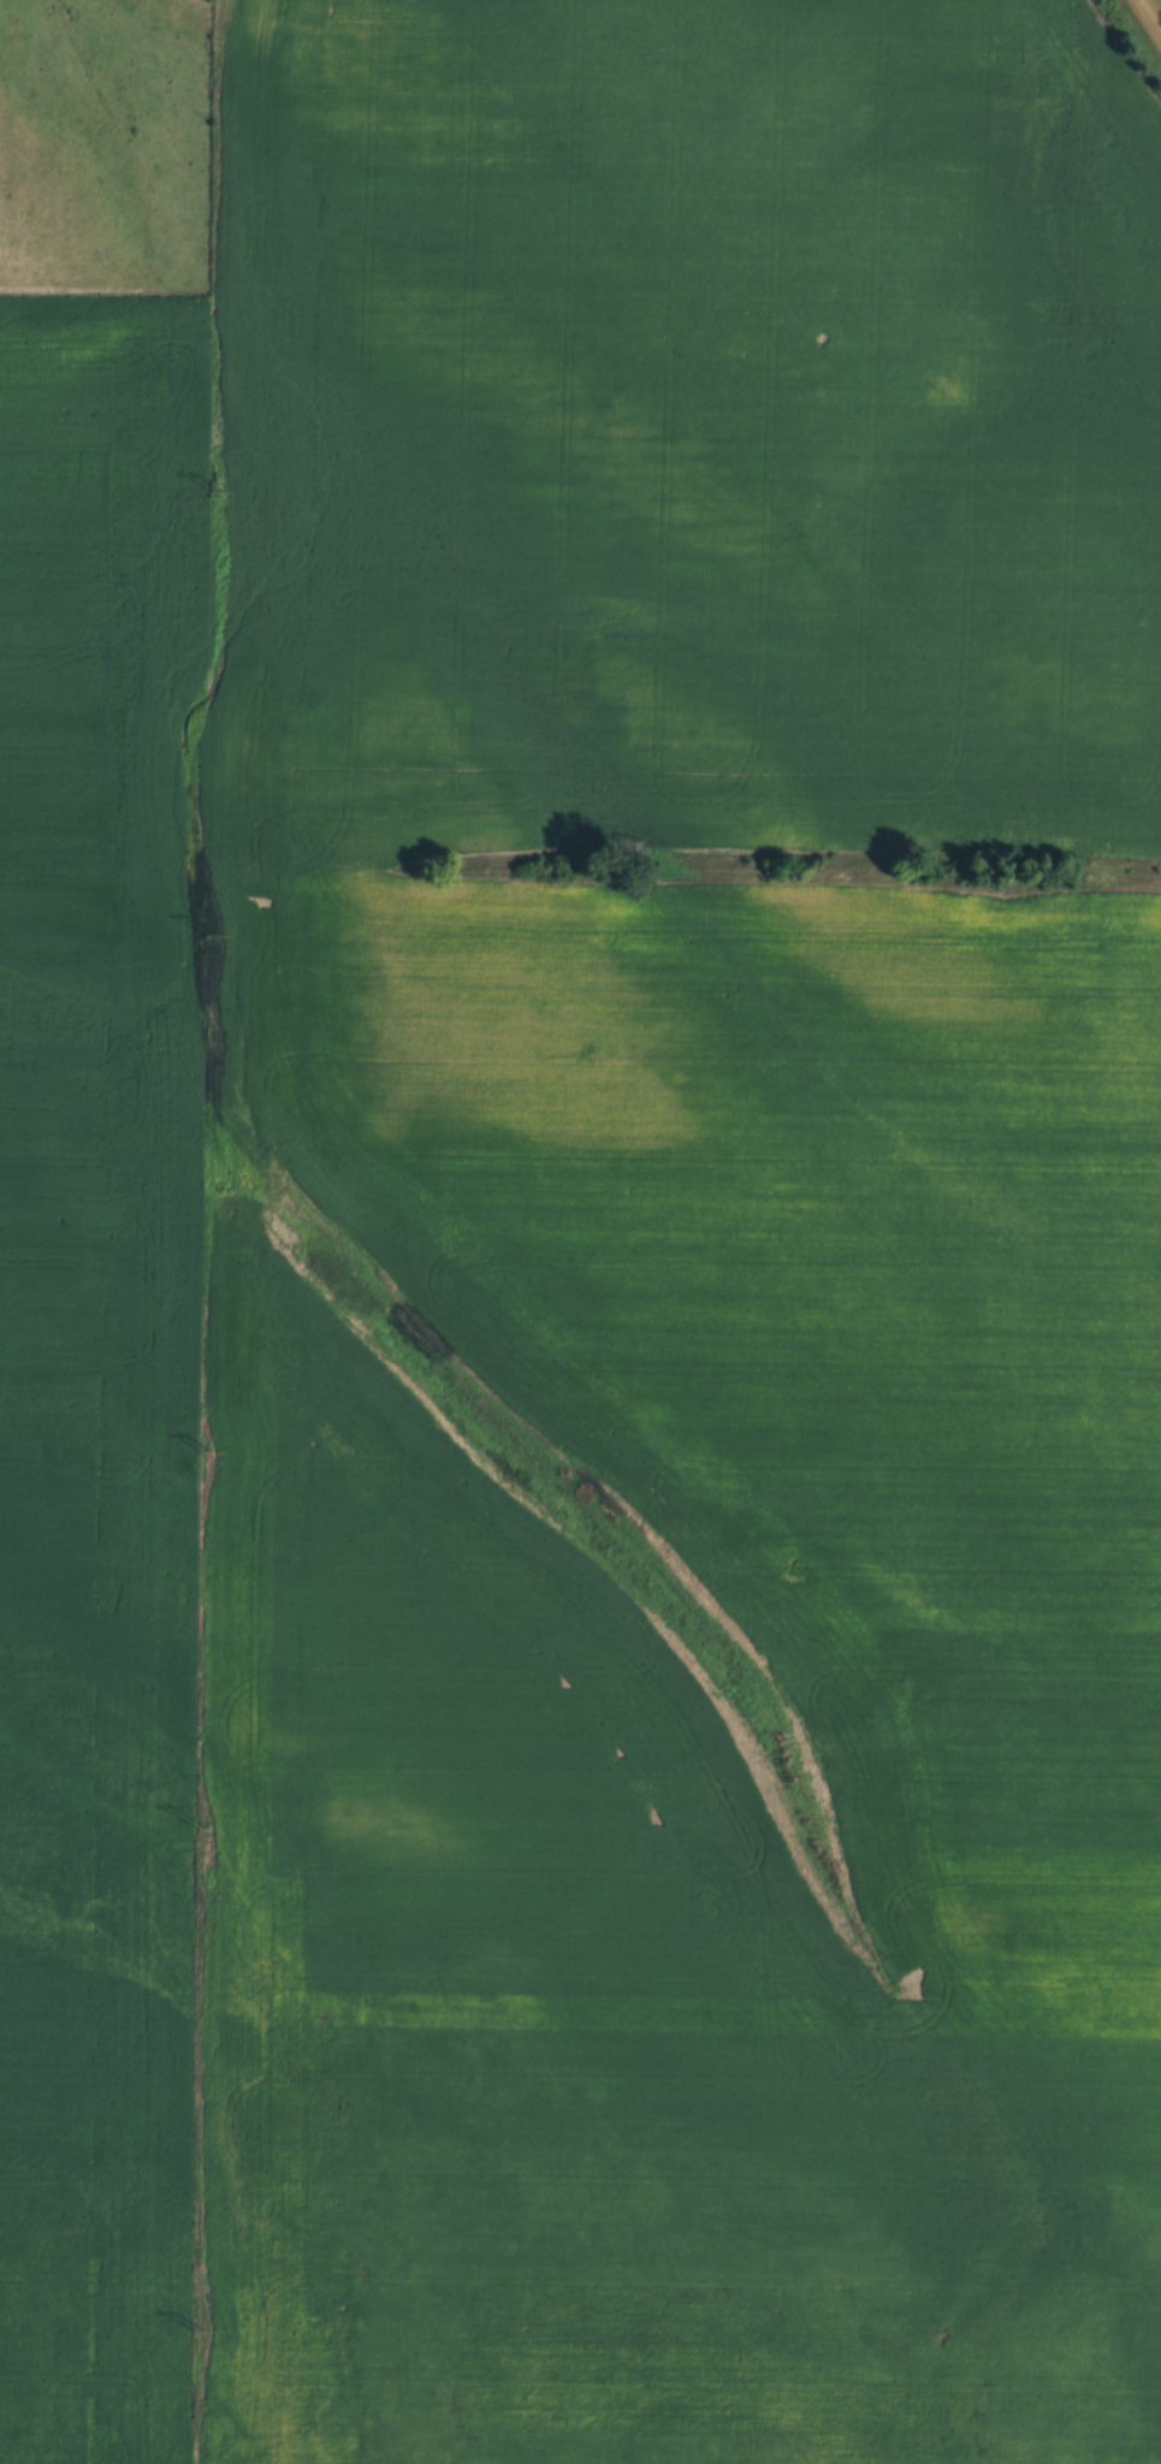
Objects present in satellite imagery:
road: (1150, 16)
power tower: (218, 496)
power tower: (213, 938)
power tower: (207, 1455)
power tower: (205, 1832)
power tower: (199, 2334)

